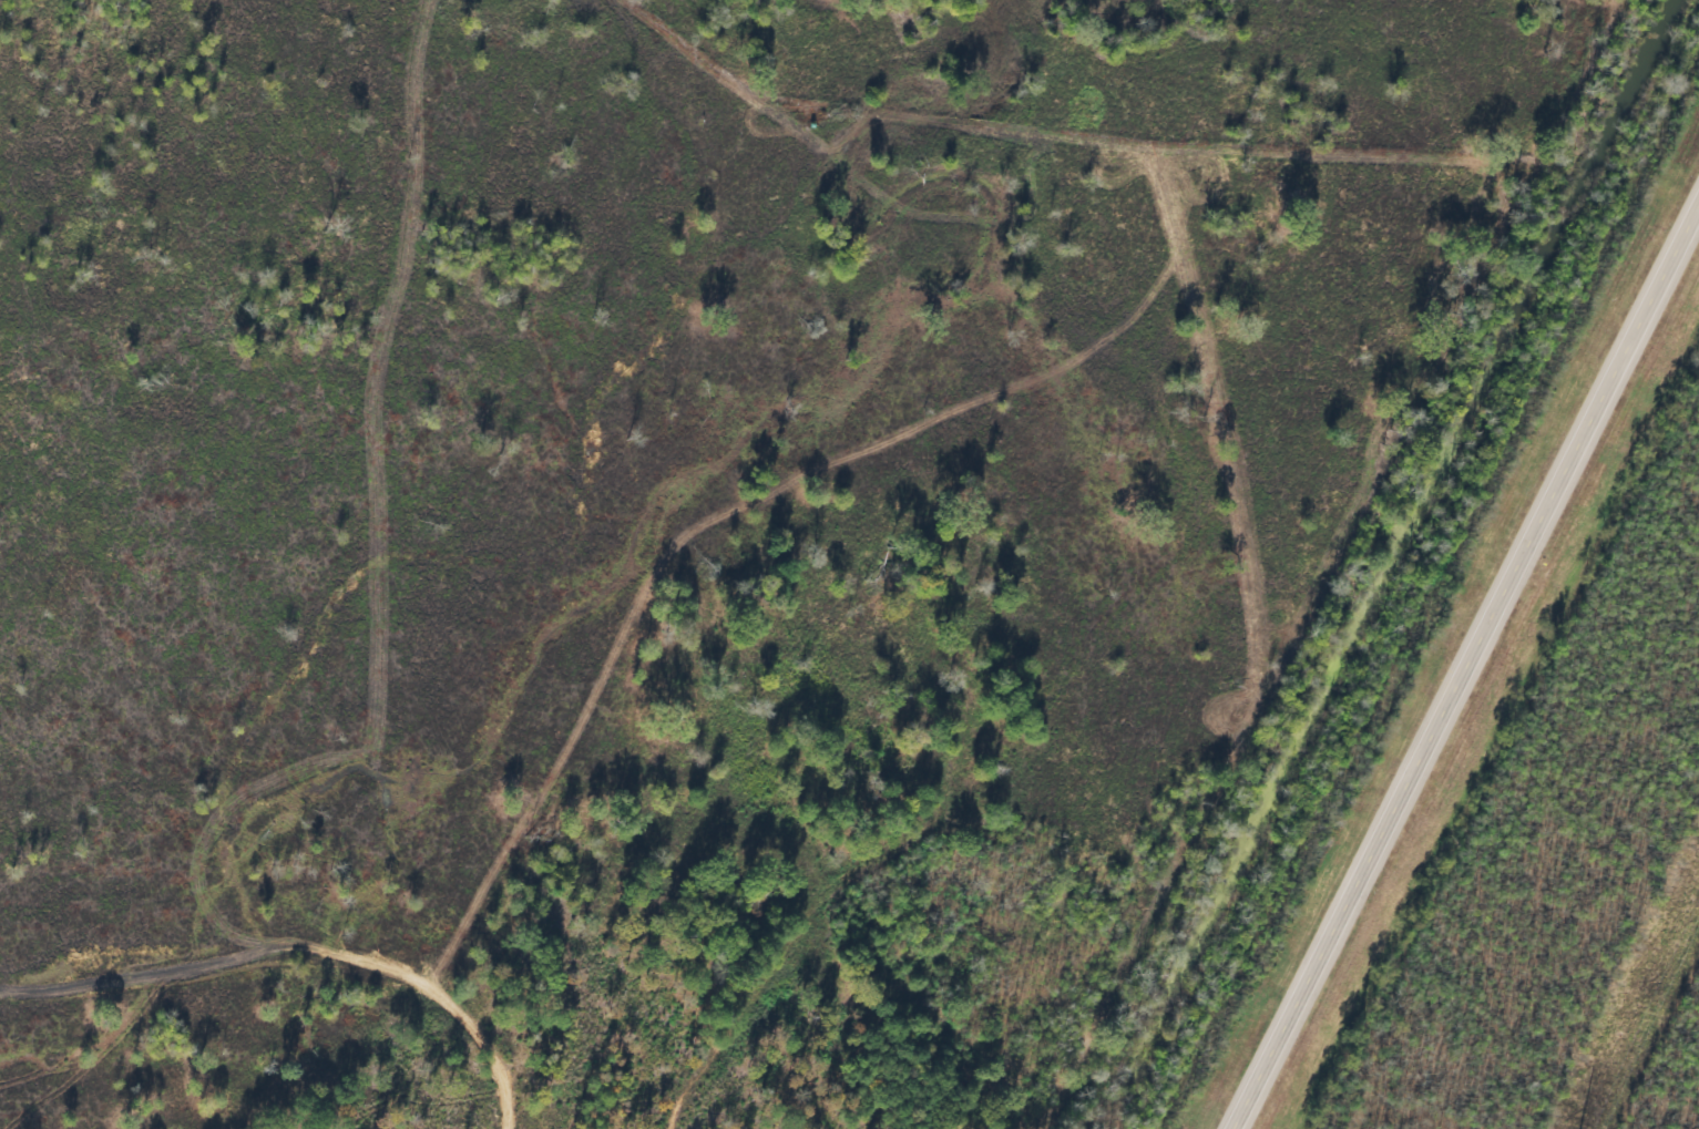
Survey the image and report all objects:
road: (1474, 661)

